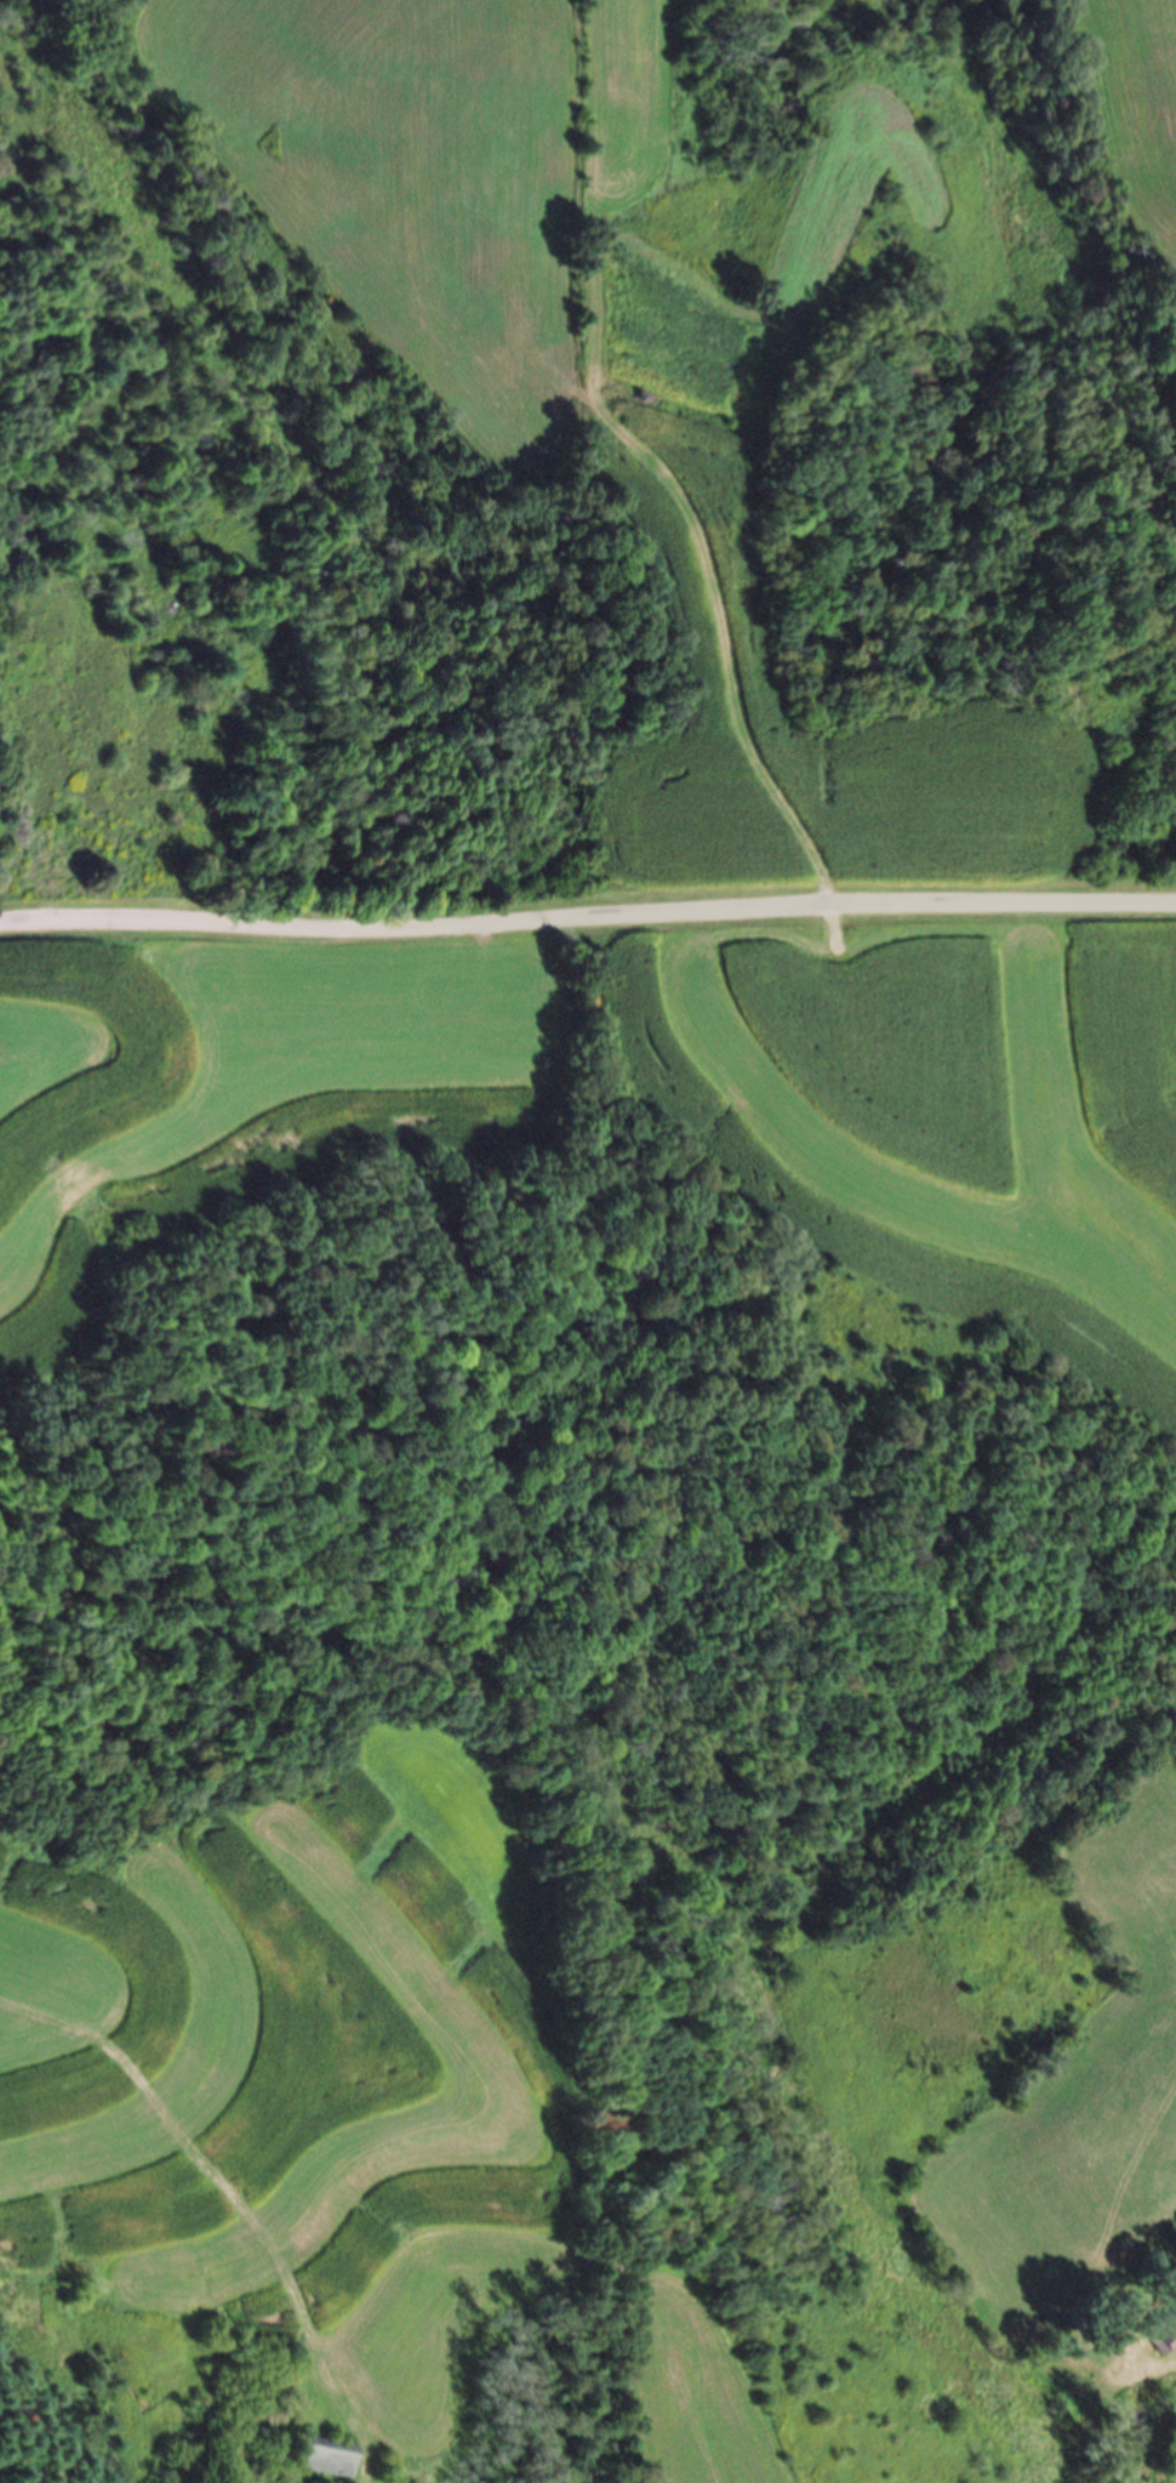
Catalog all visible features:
road: (587, 918)
building: (1161, 2336)
building: (321, 2454)

